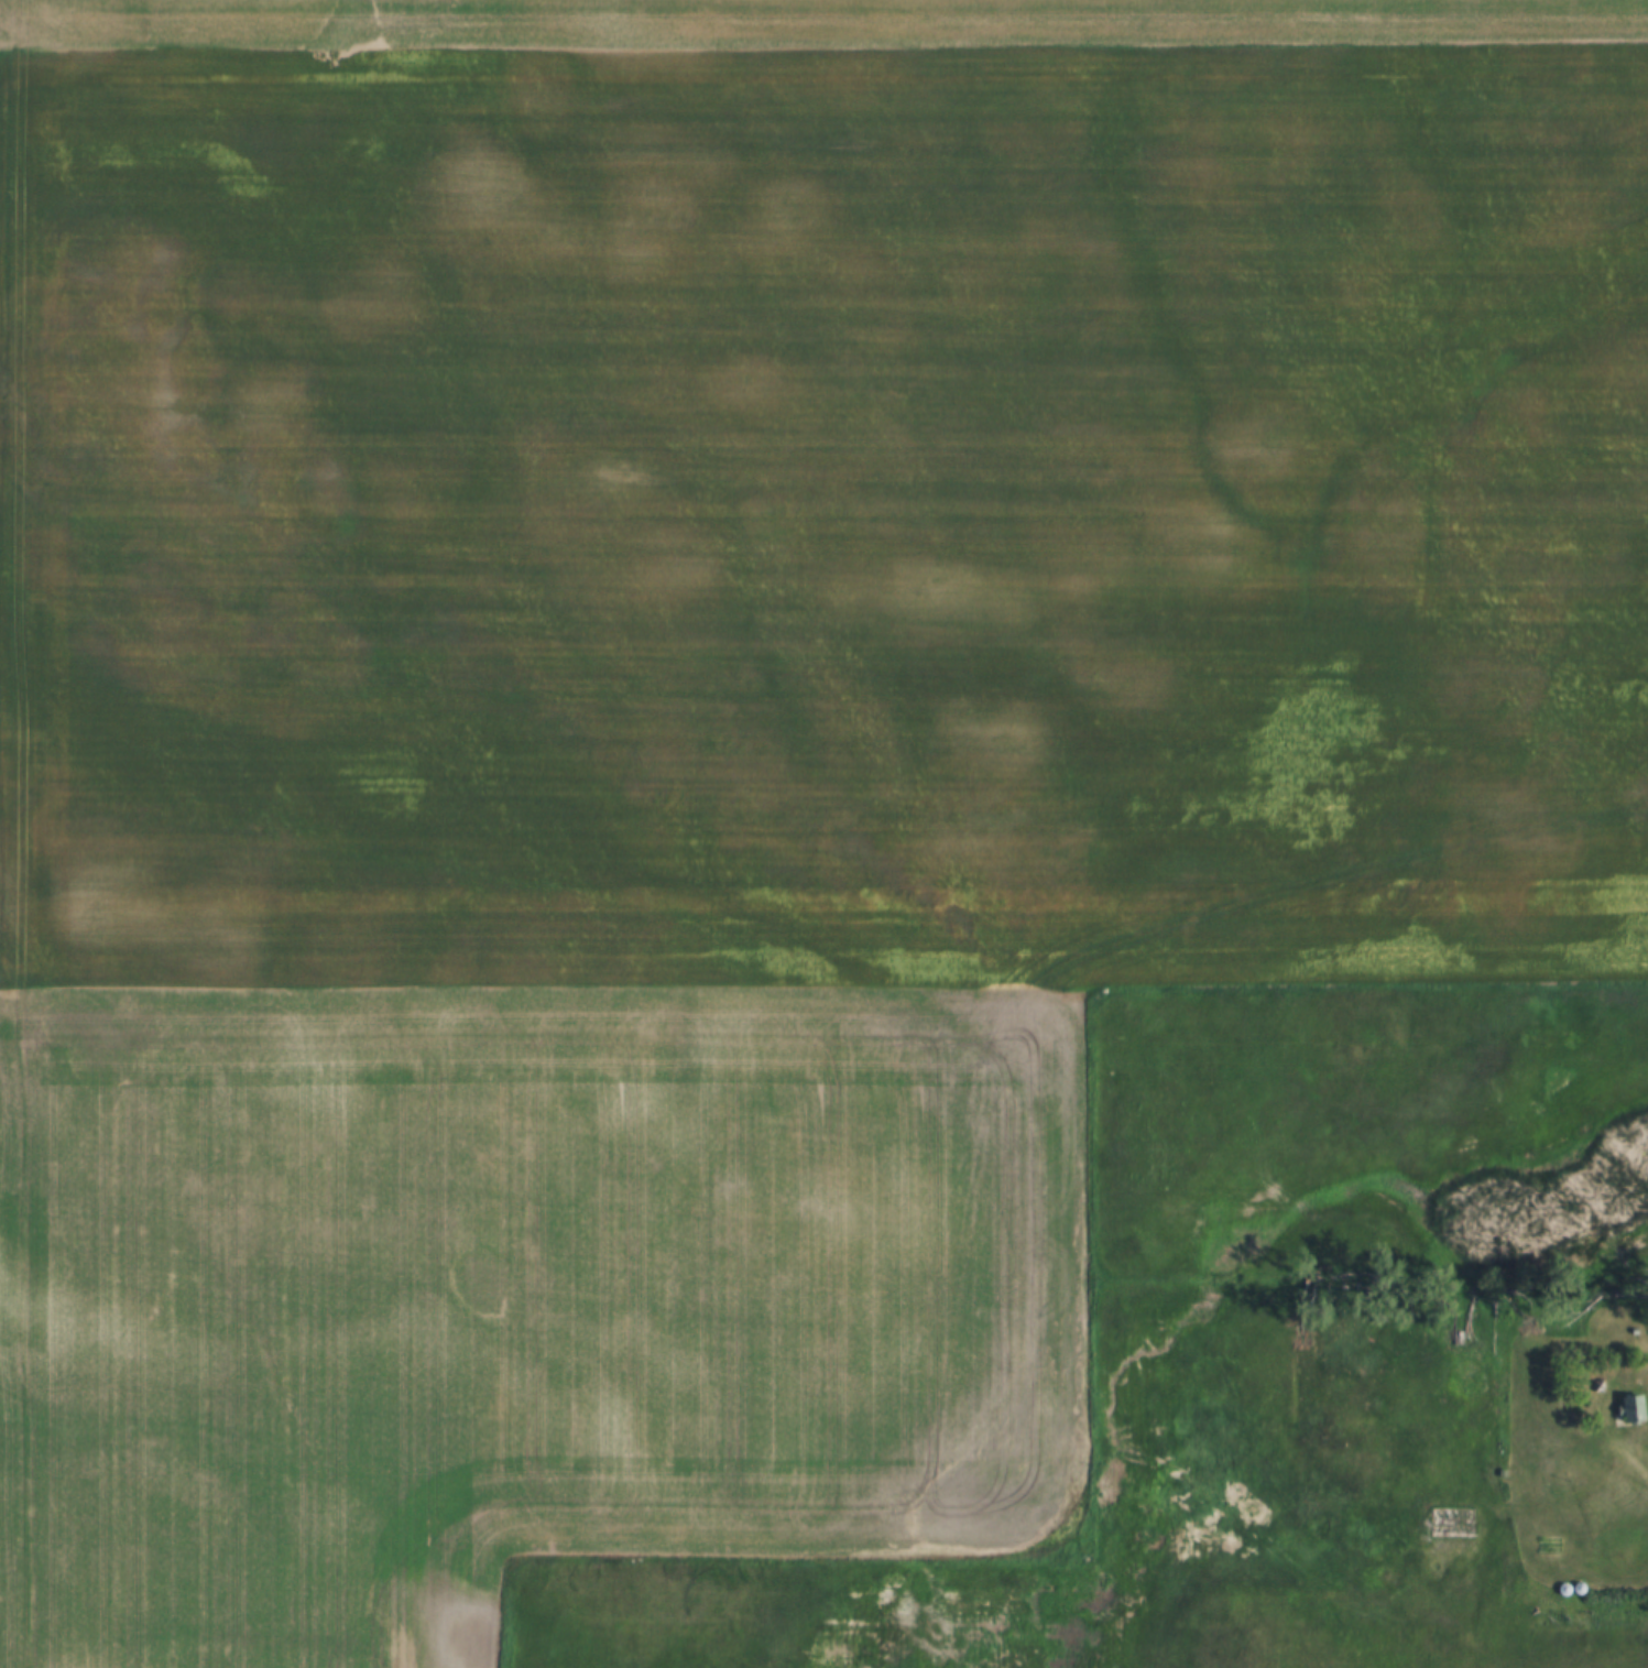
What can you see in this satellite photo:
building: (1636, 1411)
road: (1640, 1471)
building: (1461, 1523)

